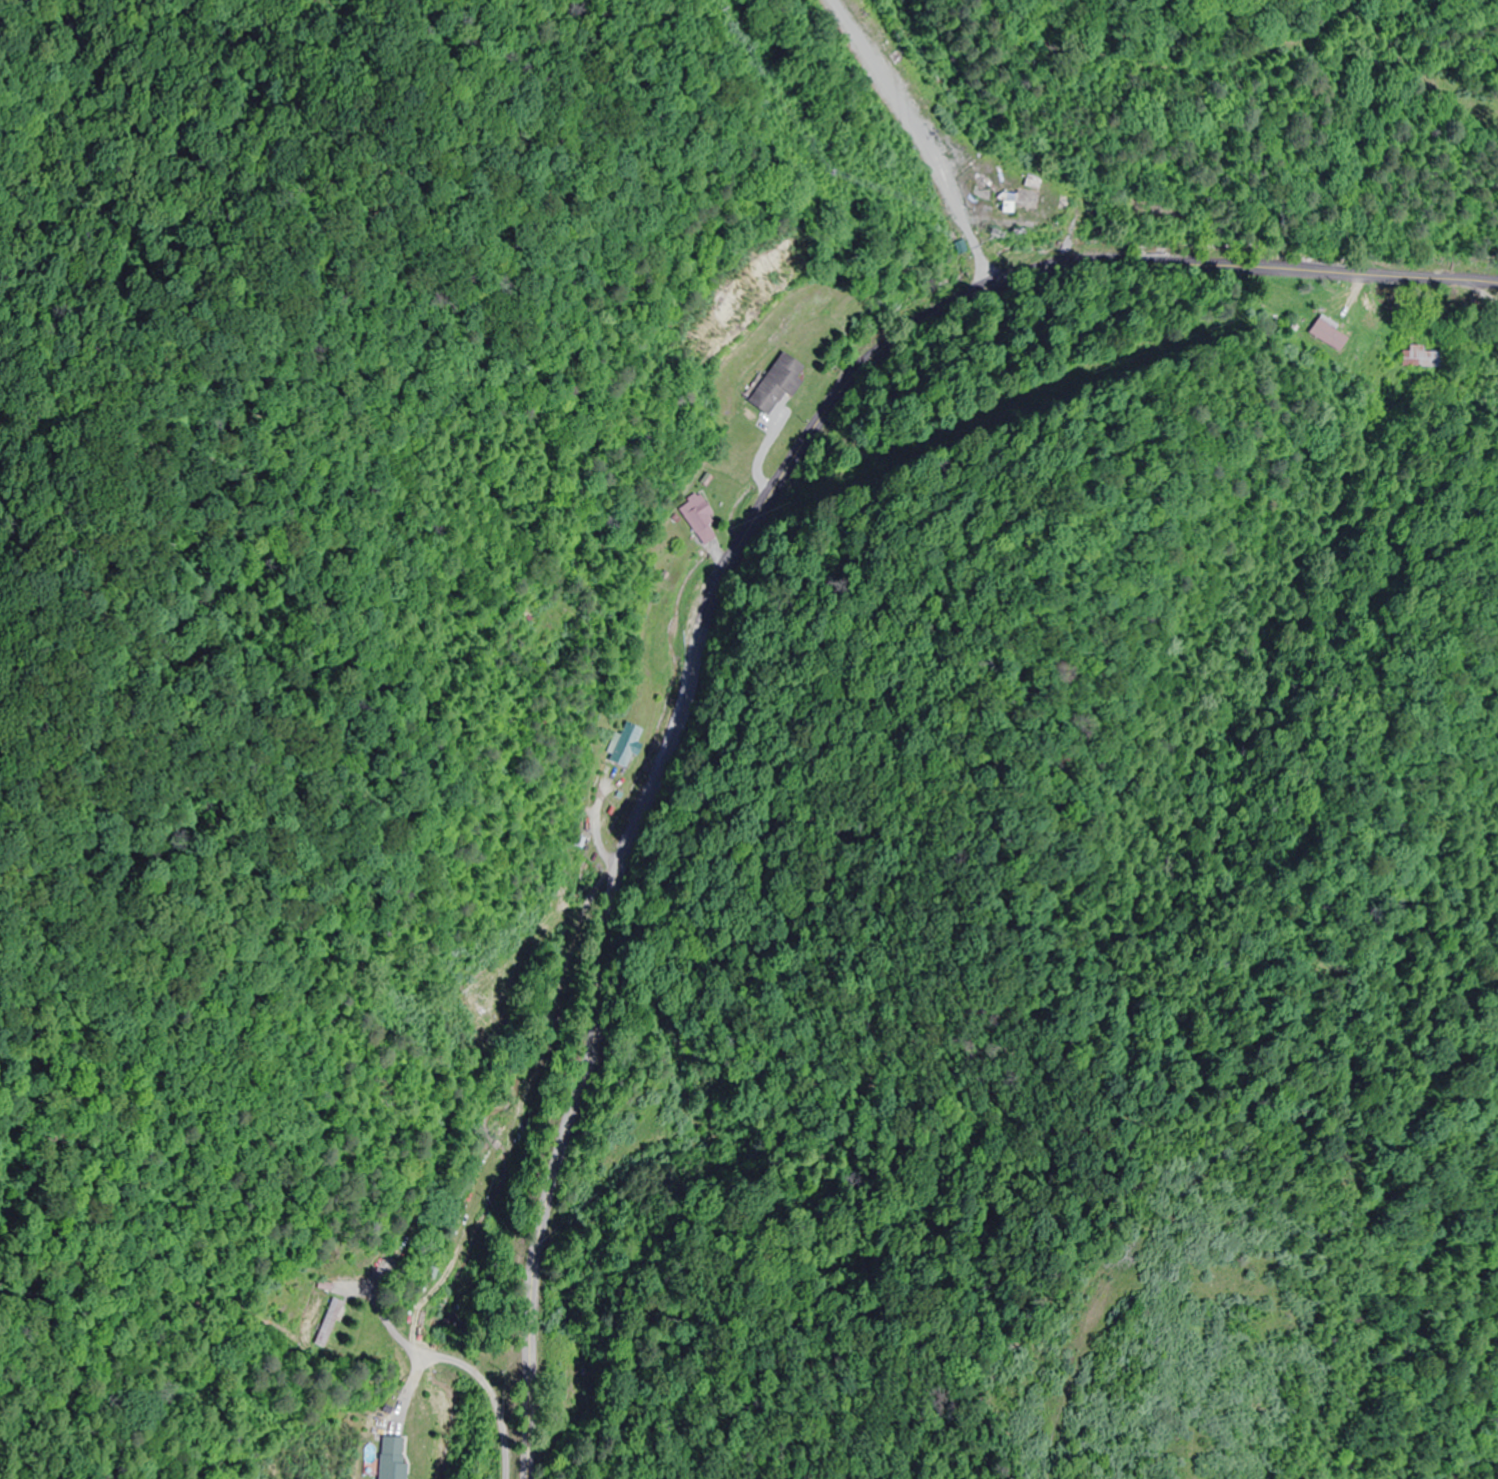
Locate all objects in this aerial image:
road: (1227, 138)
building: (1019, 198)
building: (1059, 200)
building: (1329, 332)
building: (1421, 356)
building: (774, 383)
building: (698, 518)
road: (733, 591)
road: (722, 681)
building: (627, 745)
building: (482, 1010)
building: (326, 1323)
road: (551, 1335)
building: (585, 1380)
building: (390, 1458)

